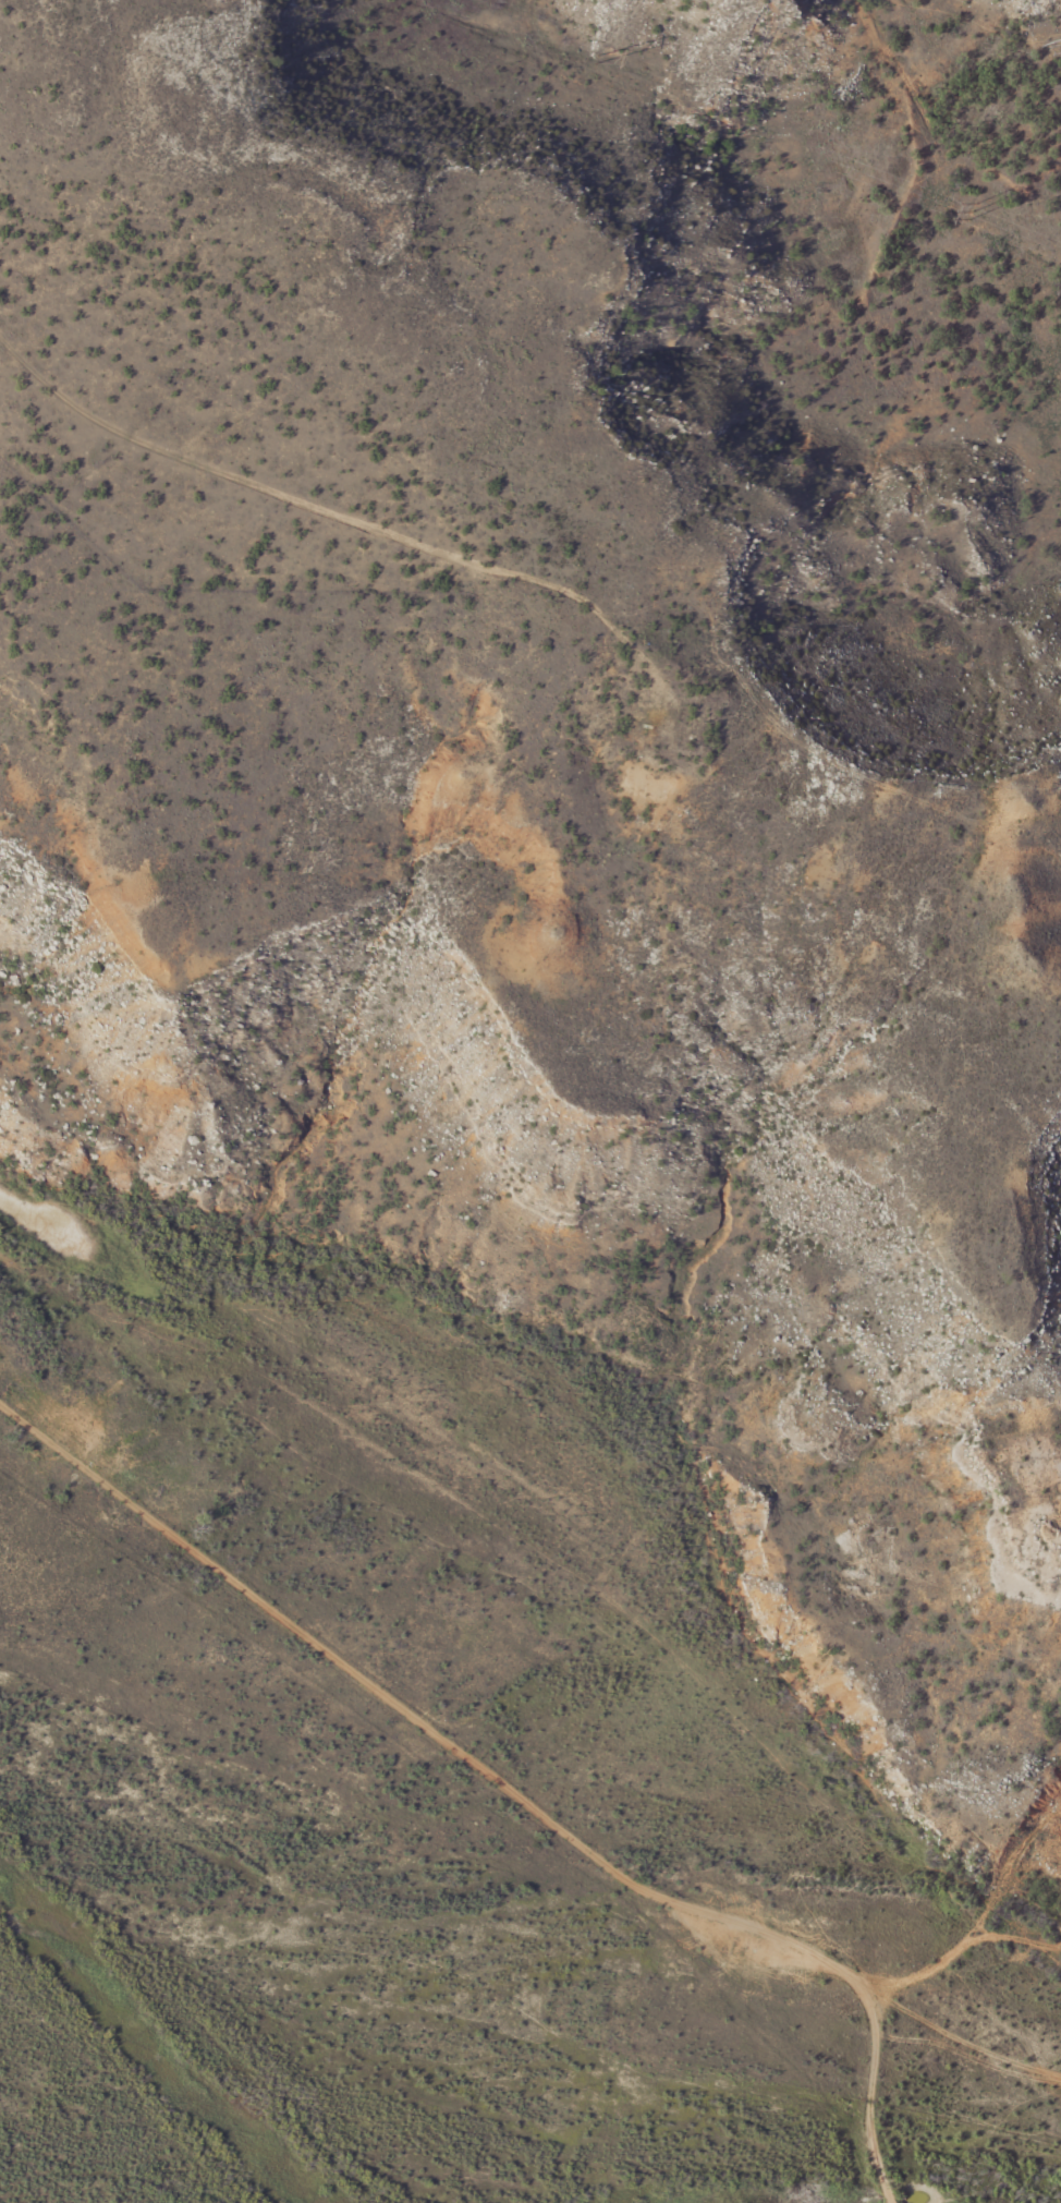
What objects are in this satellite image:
power tower: (598, 59)
power tower: (971, 215)
river: (146, 2039)

